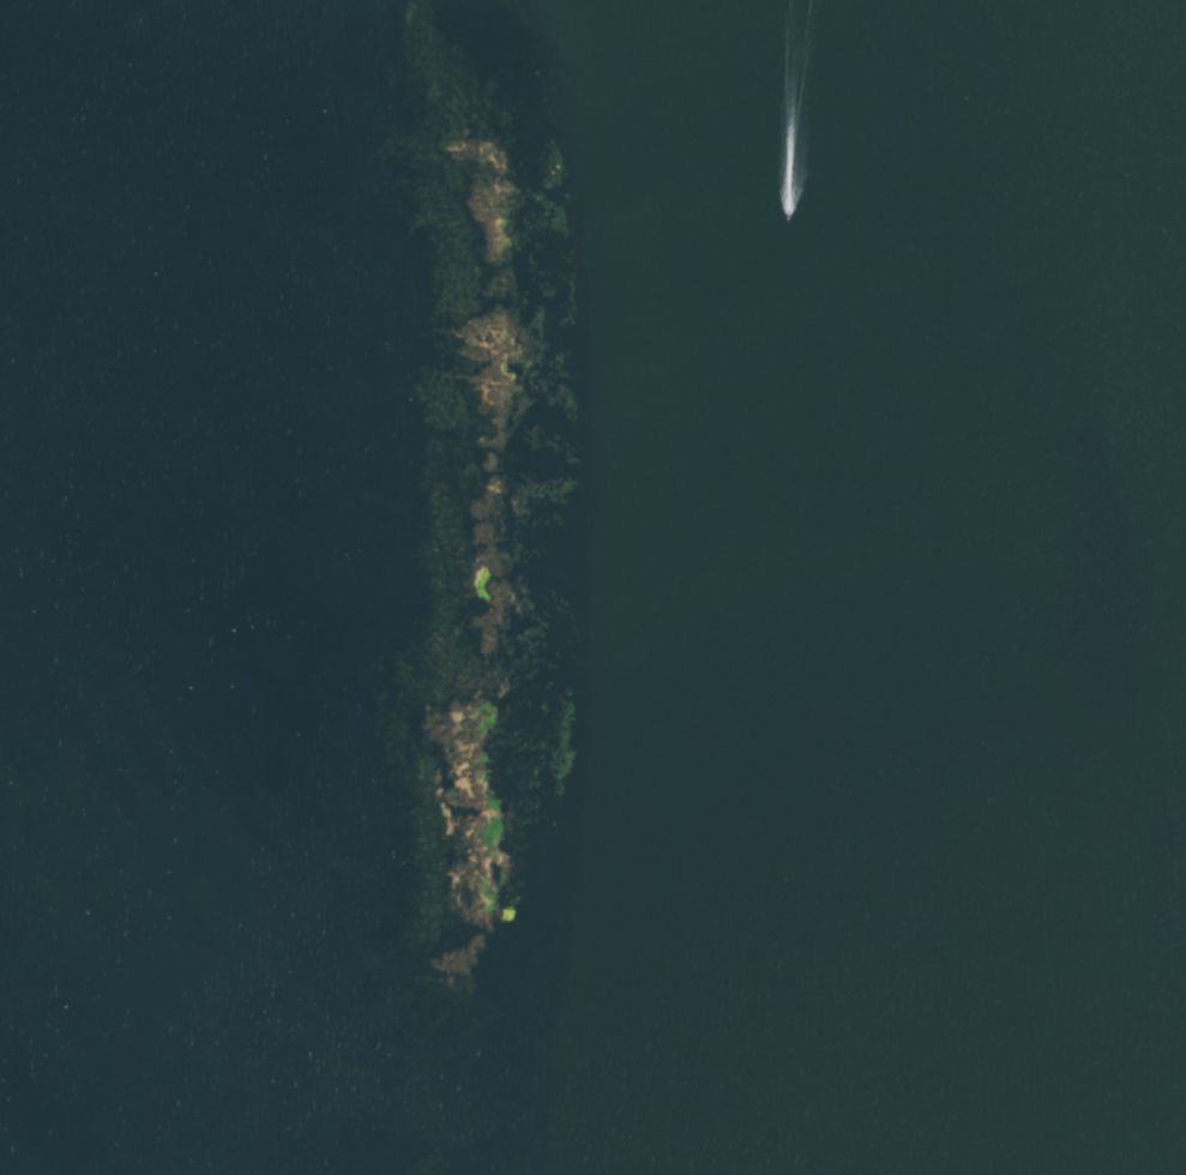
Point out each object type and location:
river: (802, 589)
river: (817, 1024)

